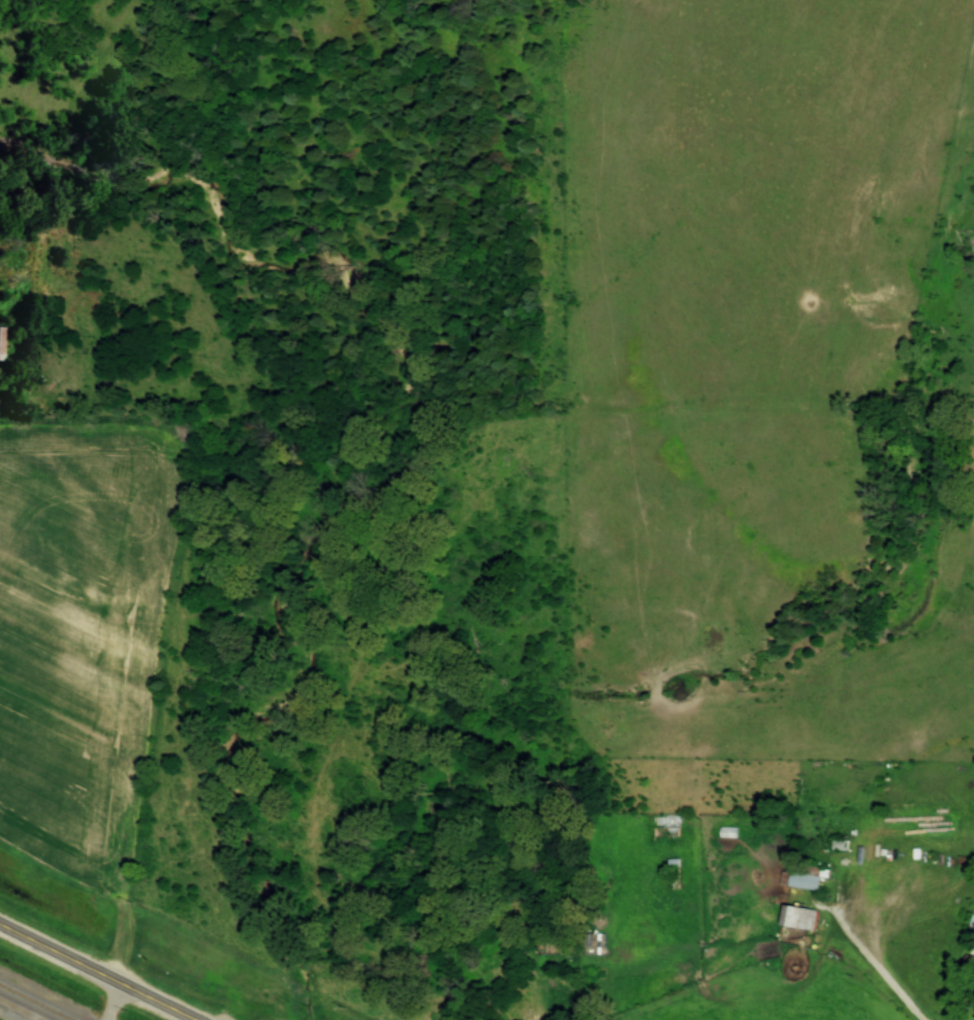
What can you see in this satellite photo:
building: (0, 344)
building: (804, 877)
building: (798, 918)
building: (972, 924)
road: (872, 955)
building: (969, 966)
road: (92, 974)
railway: (37, 1001)
road: (111, 1003)
railway: (20, 1009)

